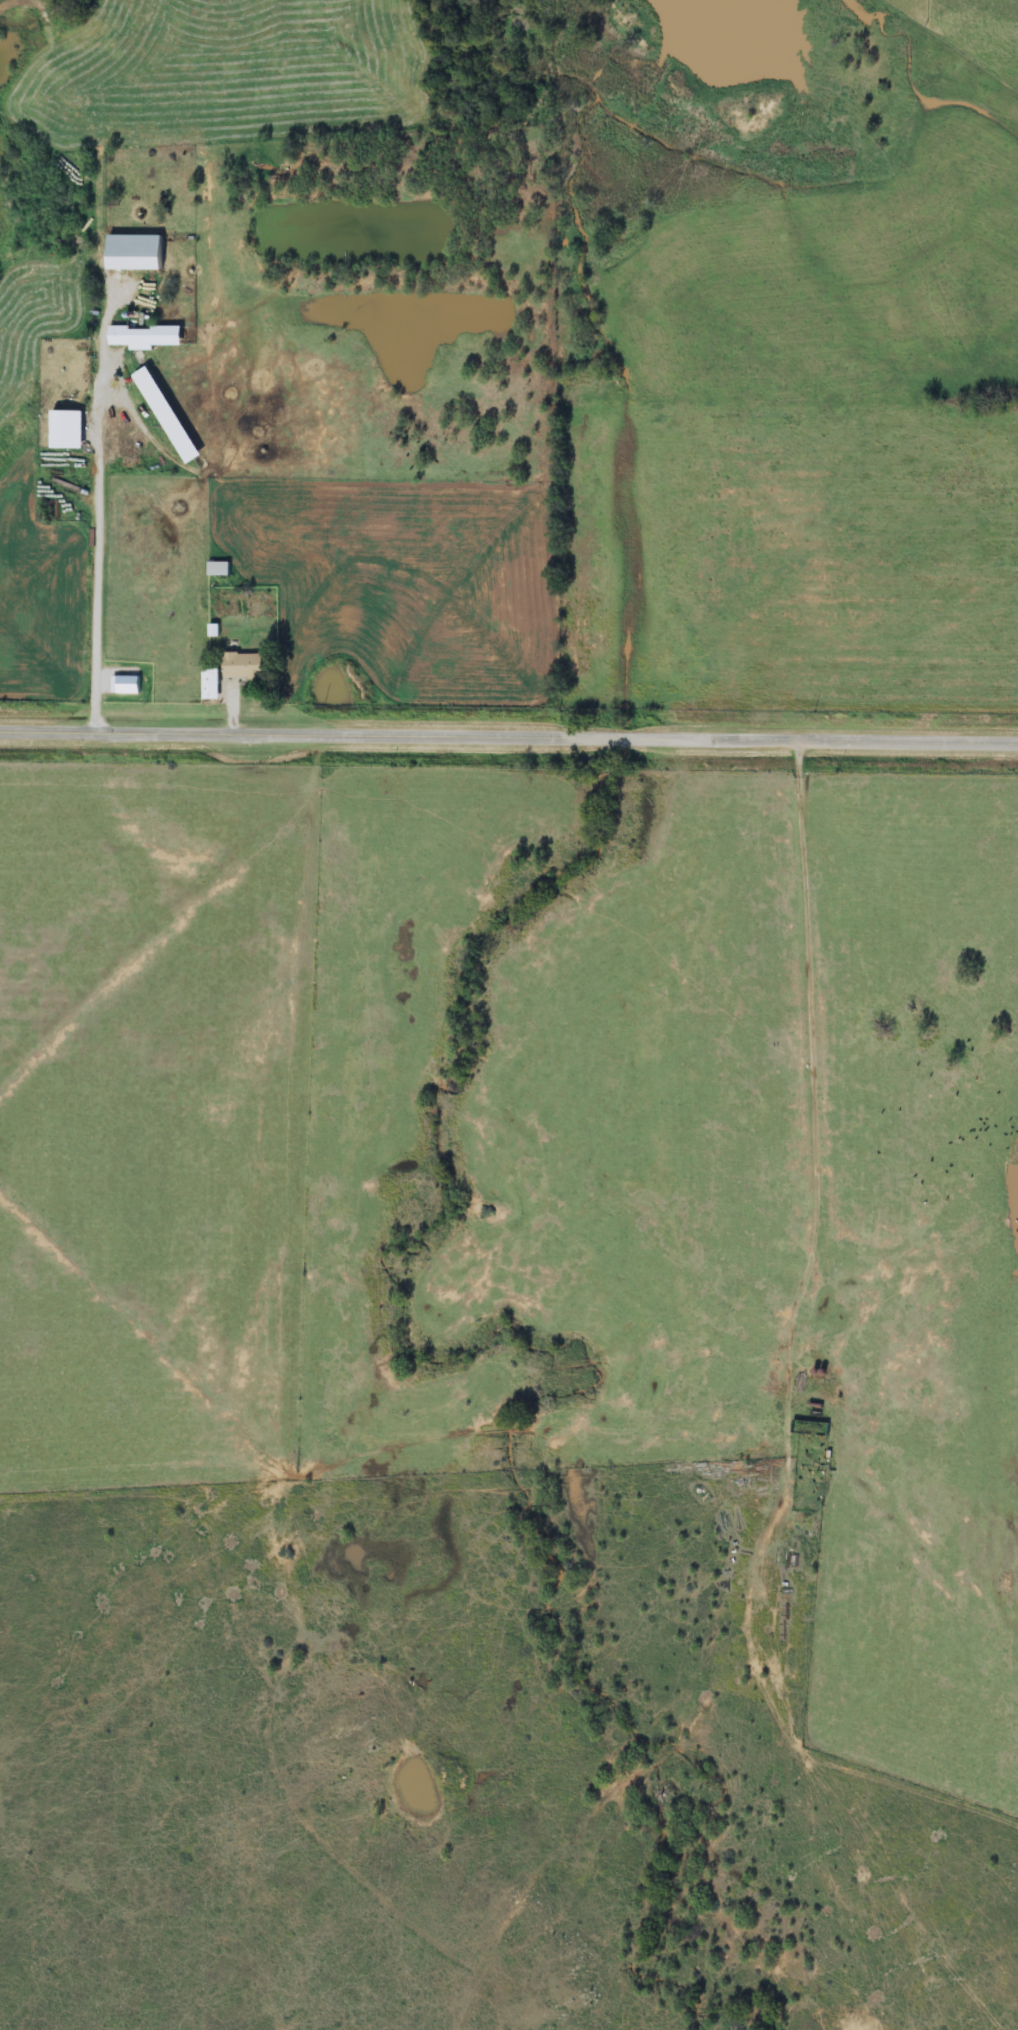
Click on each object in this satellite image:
building: (130, 252)
building: (141, 336)
building: (163, 414)
building: (63, 429)
building: (239, 666)
building: (207, 683)
road: (508, 733)

